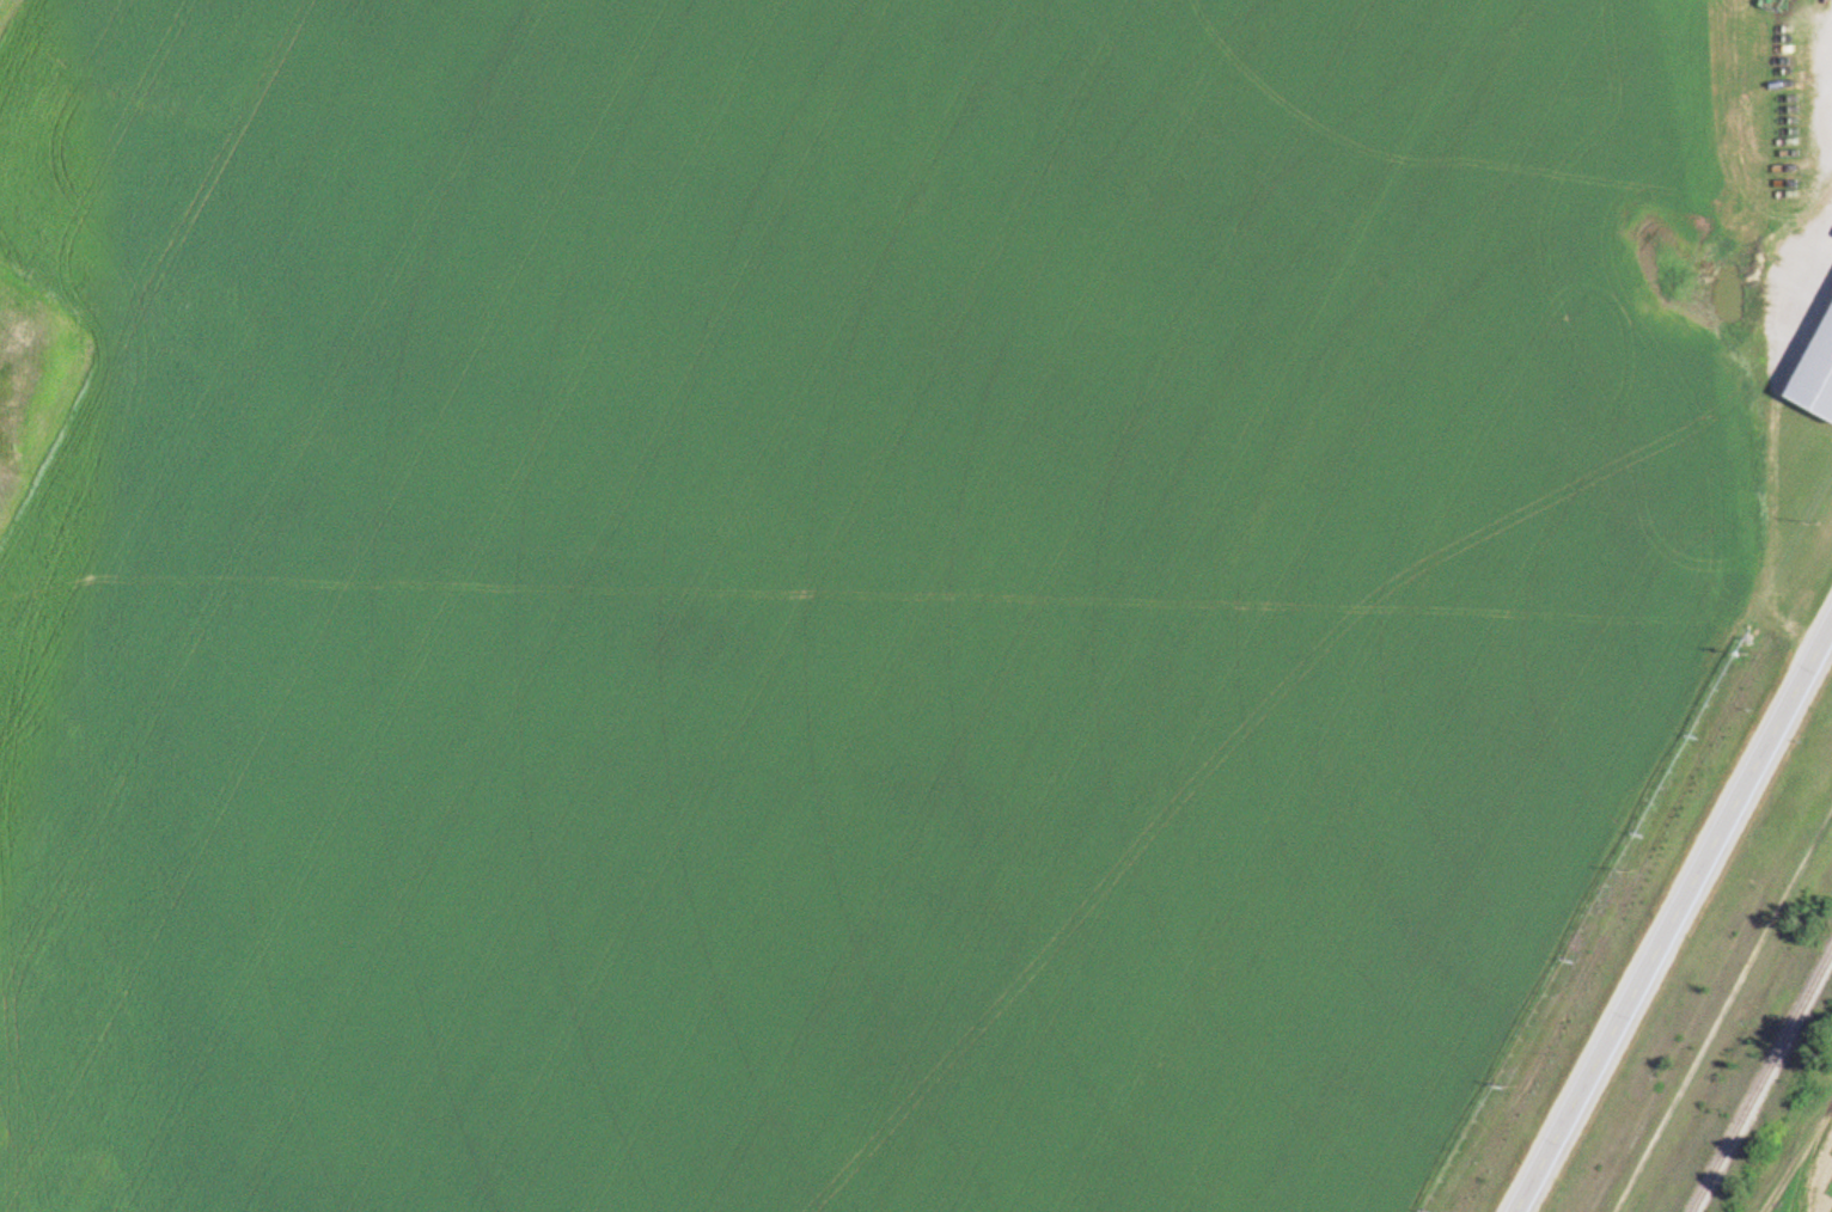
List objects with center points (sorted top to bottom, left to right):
building: (1816, 369)
road: (1672, 916)
road: (1721, 1008)
railway: (1760, 1081)
road: (1796, 1146)

